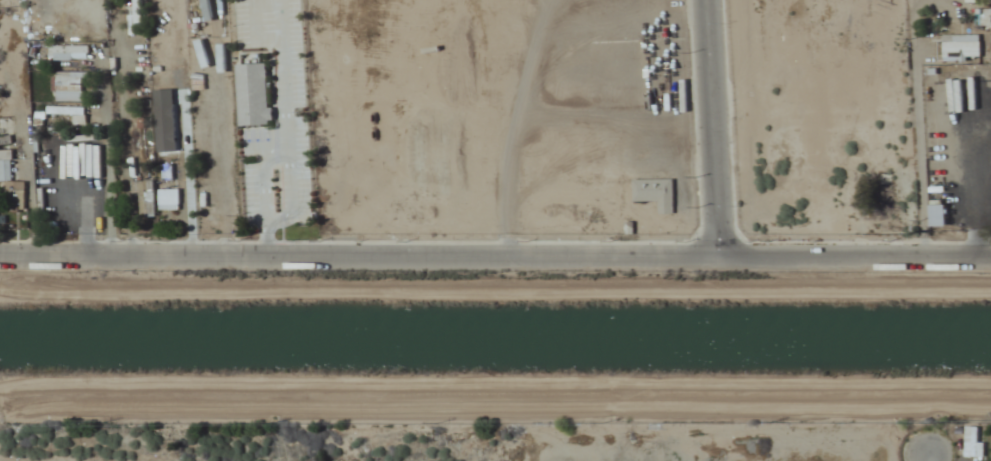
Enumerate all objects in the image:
building: (136, 11)
building: (961, 47)
building: (73, 51)
building: (68, 86)
building: (253, 95)
building: (69, 113)
road: (712, 128)
building: (142, 136)
building: (165, 152)
building: (10, 183)
building: (655, 193)
building: (144, 197)
building: (161, 200)
road: (495, 255)
building: (972, 443)
road: (929, 456)

